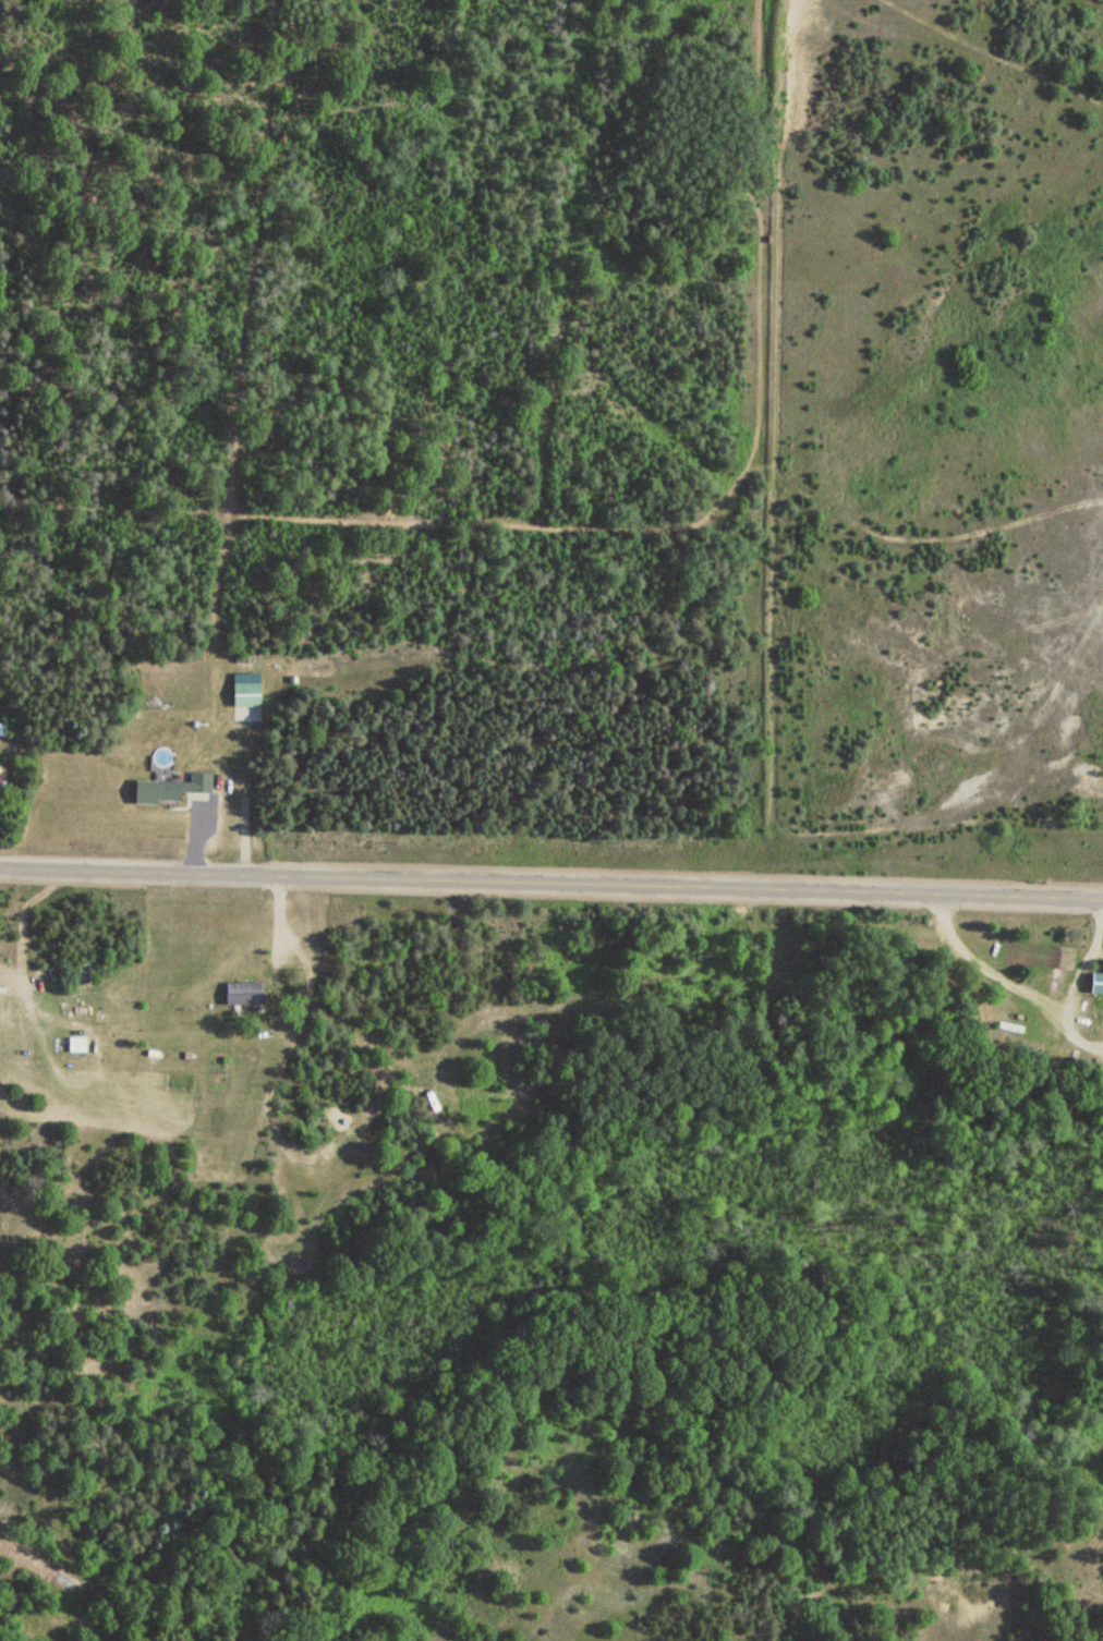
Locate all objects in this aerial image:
building: (243, 694)
building: (1, 729)
building: (167, 789)
road: (551, 884)
building: (1098, 980)
building: (242, 993)

